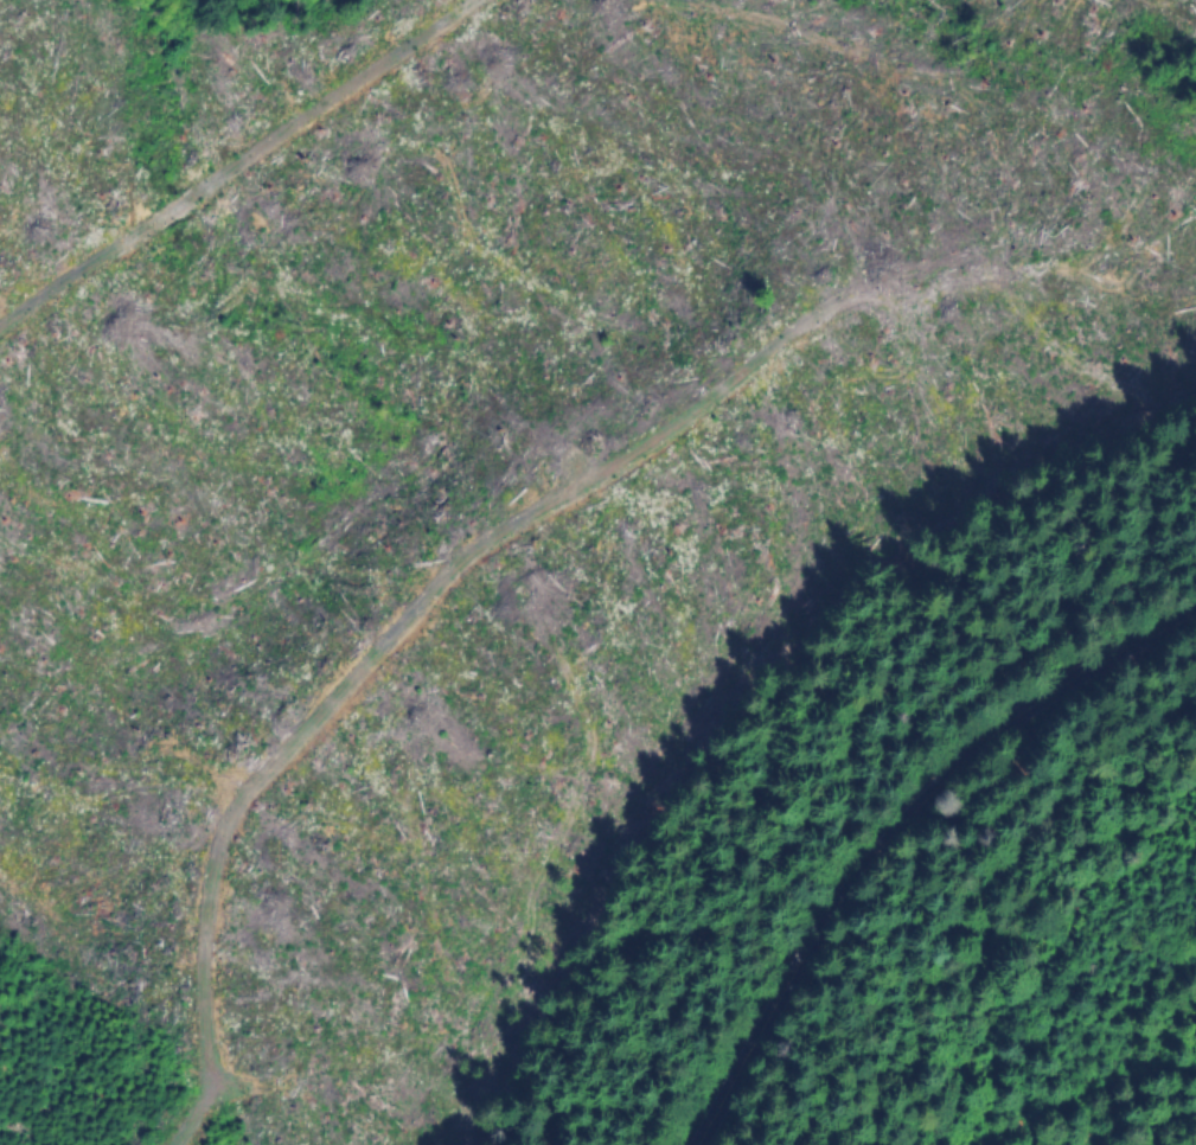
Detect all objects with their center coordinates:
road: (893, 829)

